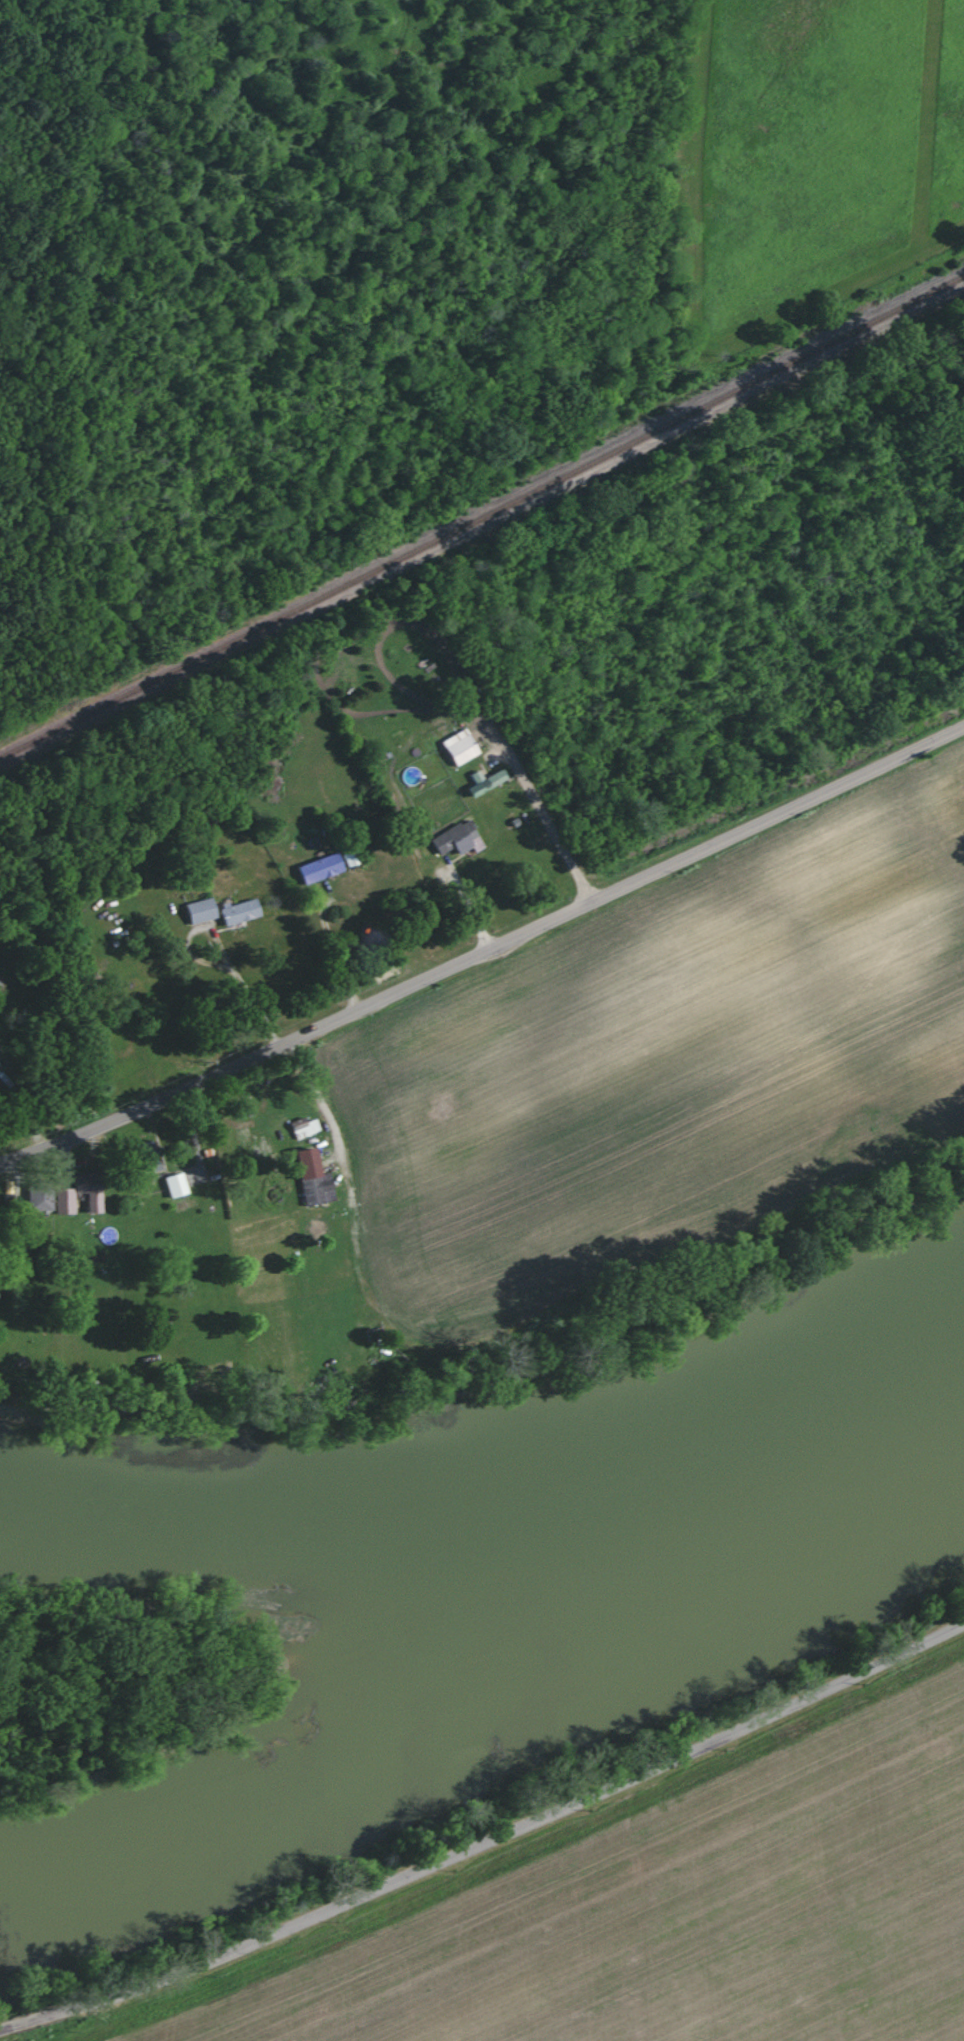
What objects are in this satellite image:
railway: (475, 486)
building: (467, 753)
building: (491, 782)
road: (546, 834)
building: (465, 845)
building: (316, 868)
building: (332, 870)
building: (197, 911)
building: (211, 911)
building: (236, 911)
building: (252, 913)
road: (484, 950)
road: (327, 952)
building: (3, 1081)
building: (299, 1106)
building: (310, 1130)
building: (144, 1157)
building: (309, 1178)
building: (172, 1185)
building: (187, 1187)
building: (100, 1193)
building: (54, 1197)
building: (35, 1198)
building: (61, 1203)
road: (376, 1312)
river: (304, 1508)
river: (478, 1636)
road: (488, 1837)

